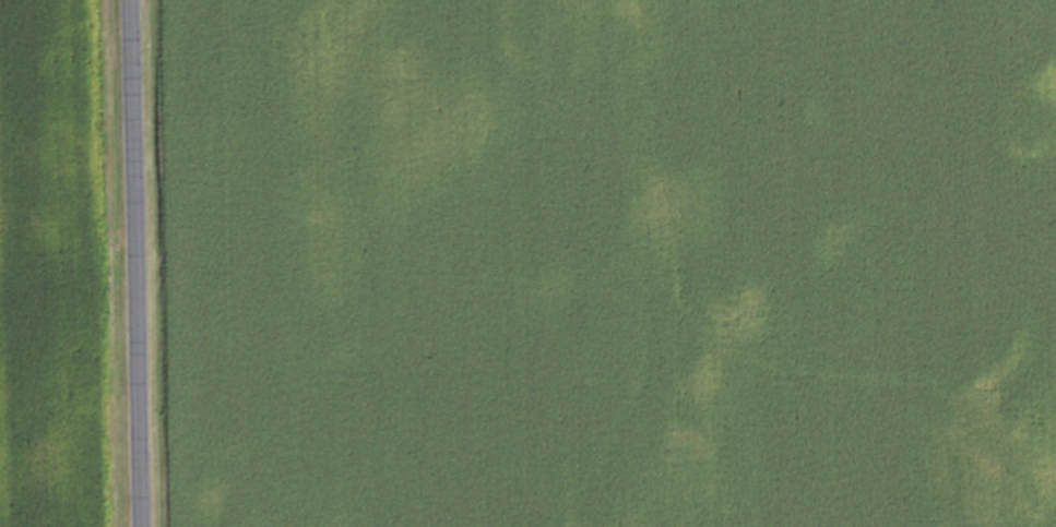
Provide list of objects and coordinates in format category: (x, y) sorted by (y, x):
road: (140, 263)
crop: (608, 263)

